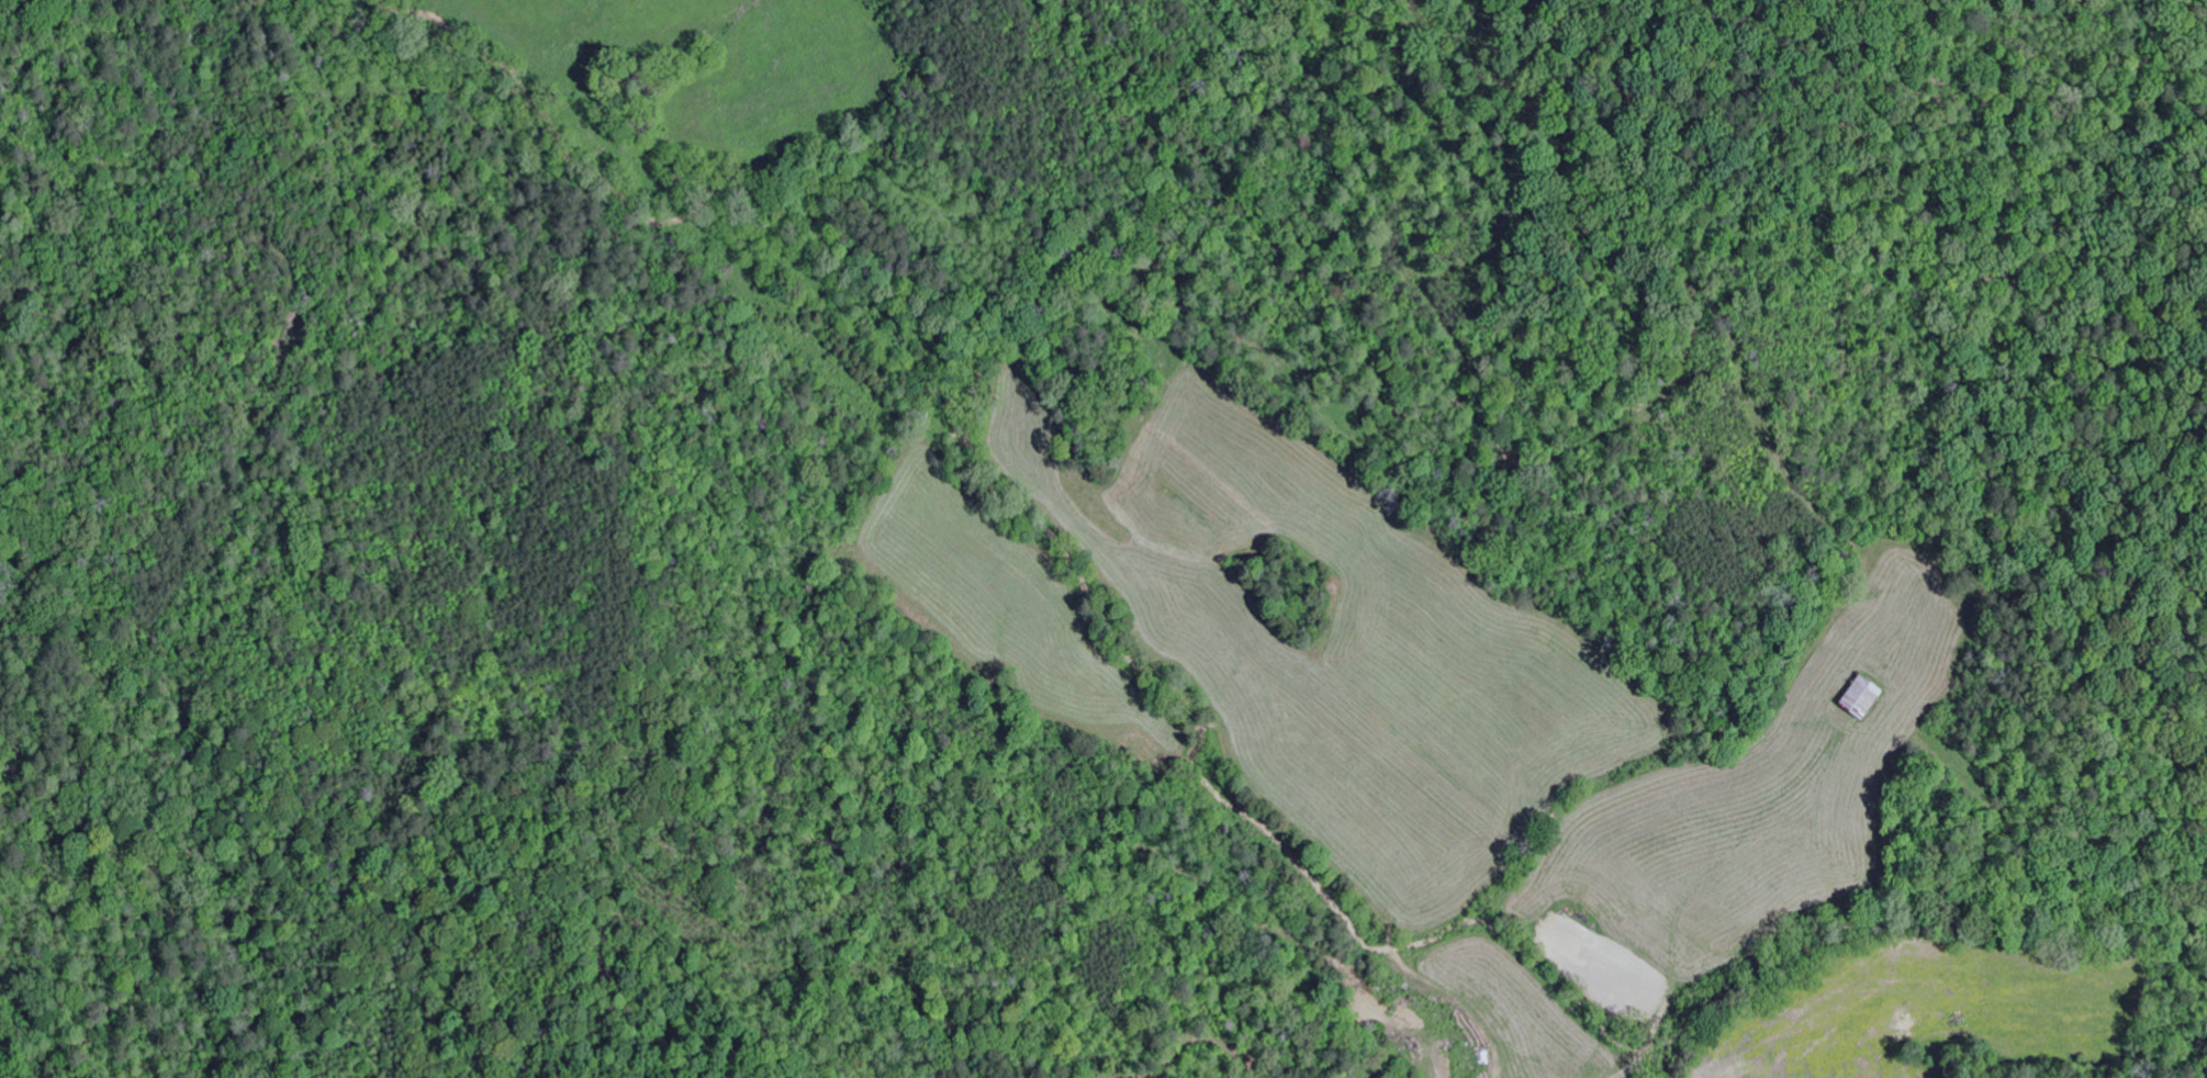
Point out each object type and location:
building: (1858, 696)

